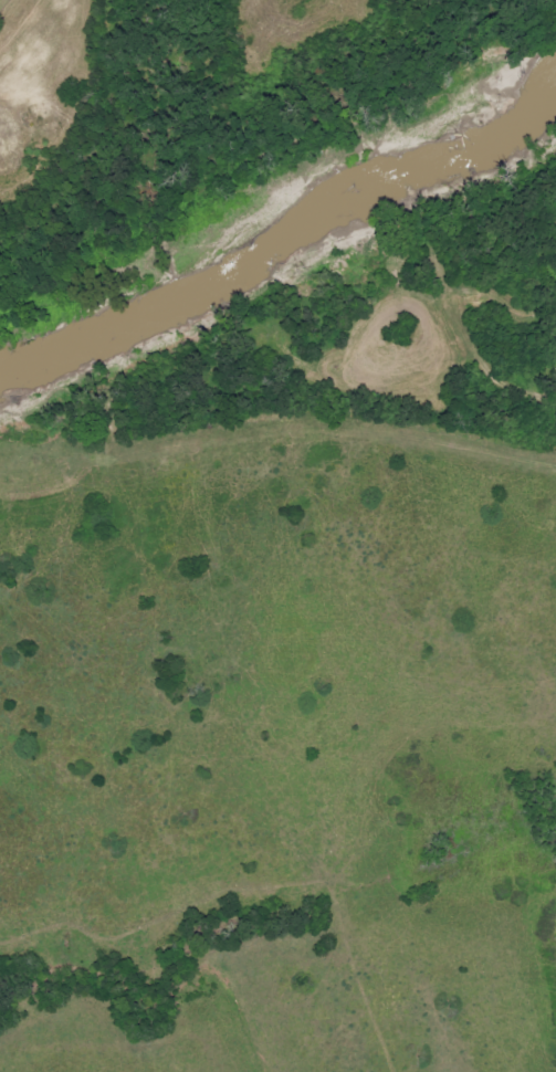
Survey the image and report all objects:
river: (281, 242)

